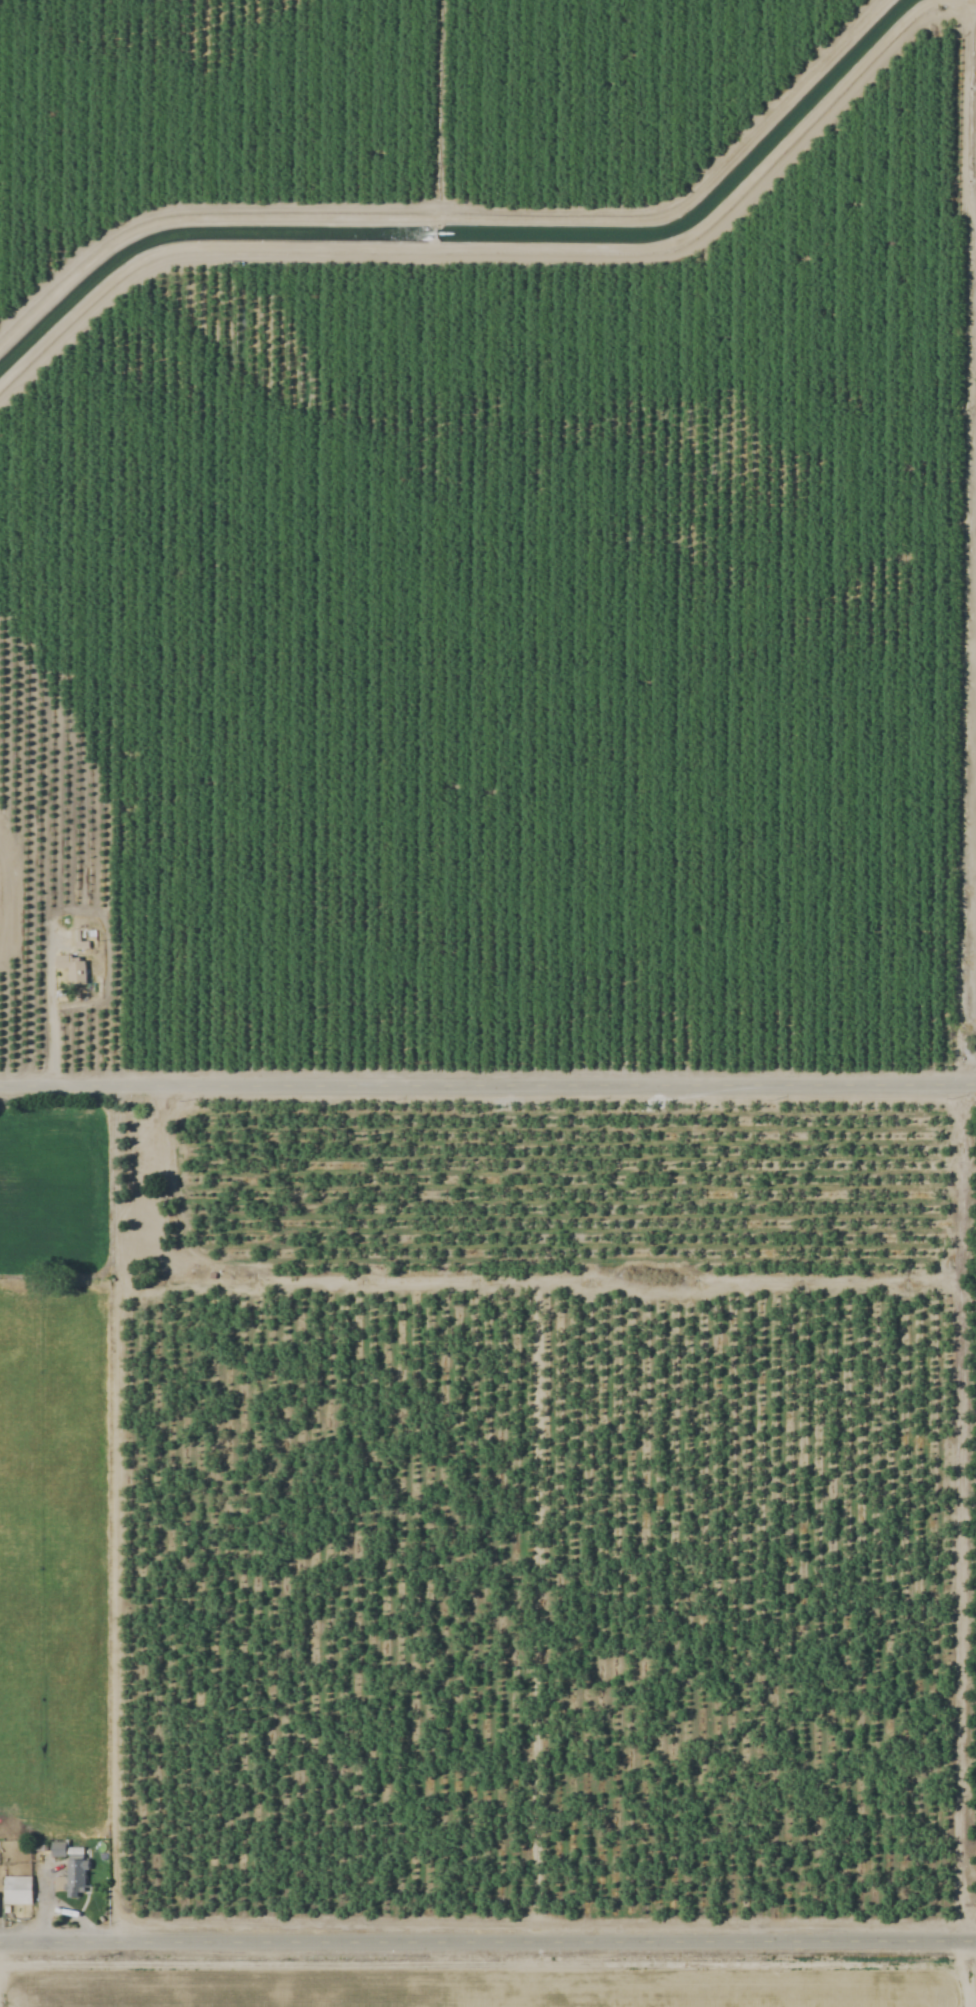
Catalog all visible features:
building: (54, 824)
building: (63, 872)
road: (47, 955)
building: (72, 969)
road: (488, 1082)
building: (138, 1244)
building: (70, 1869)
building: (16, 1891)
road: (488, 1938)

